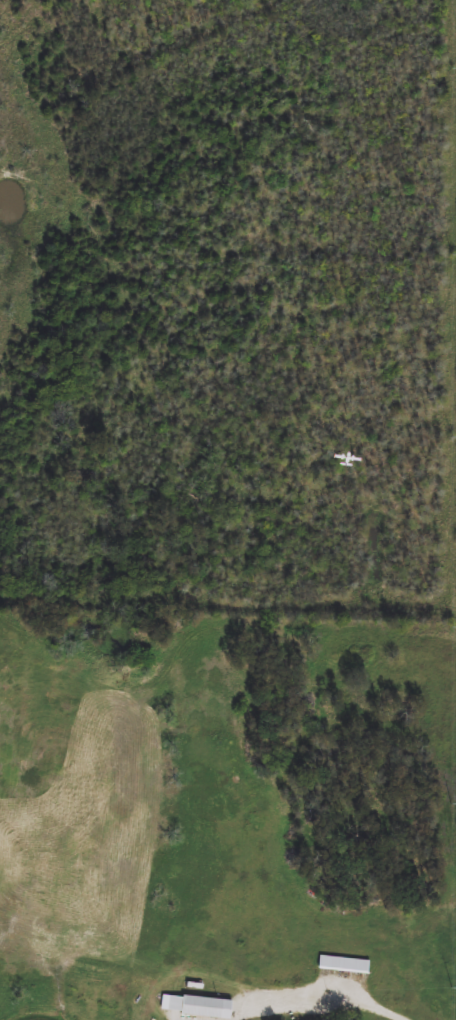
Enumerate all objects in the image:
building: (345, 965)
road: (326, 1001)
building: (198, 1007)

